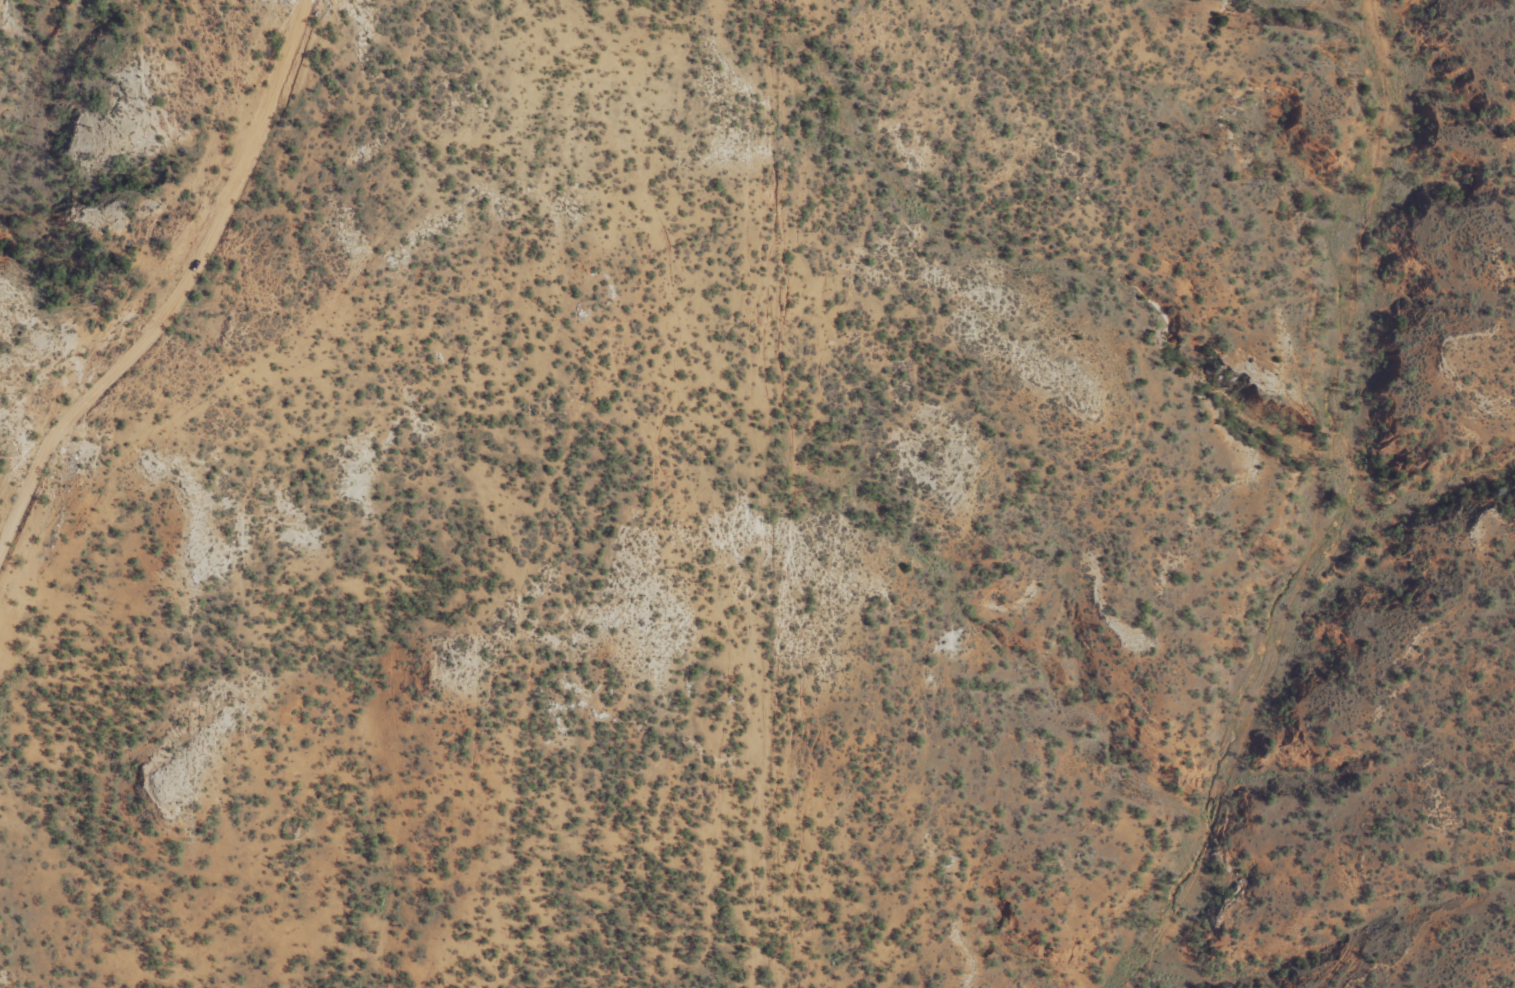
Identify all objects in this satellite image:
road: (166, 305)

